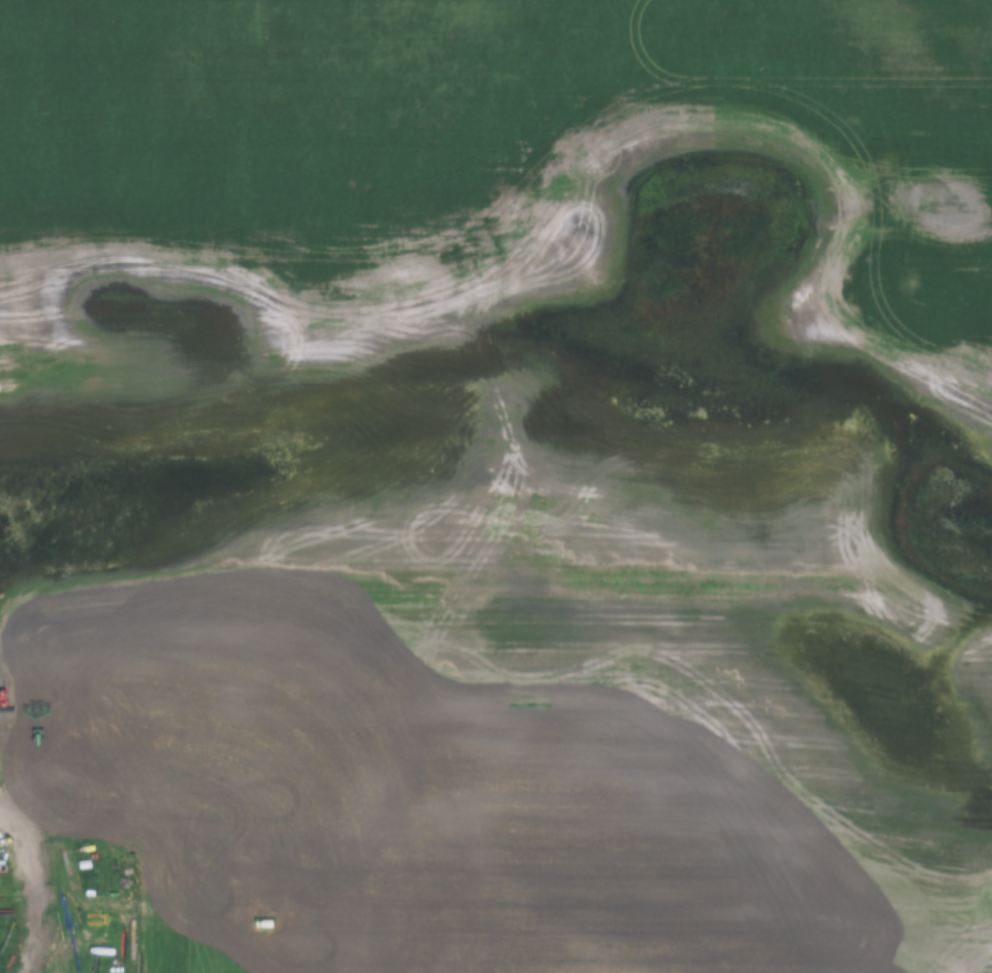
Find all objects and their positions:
crop: (463, 328)
road: (7, 908)

